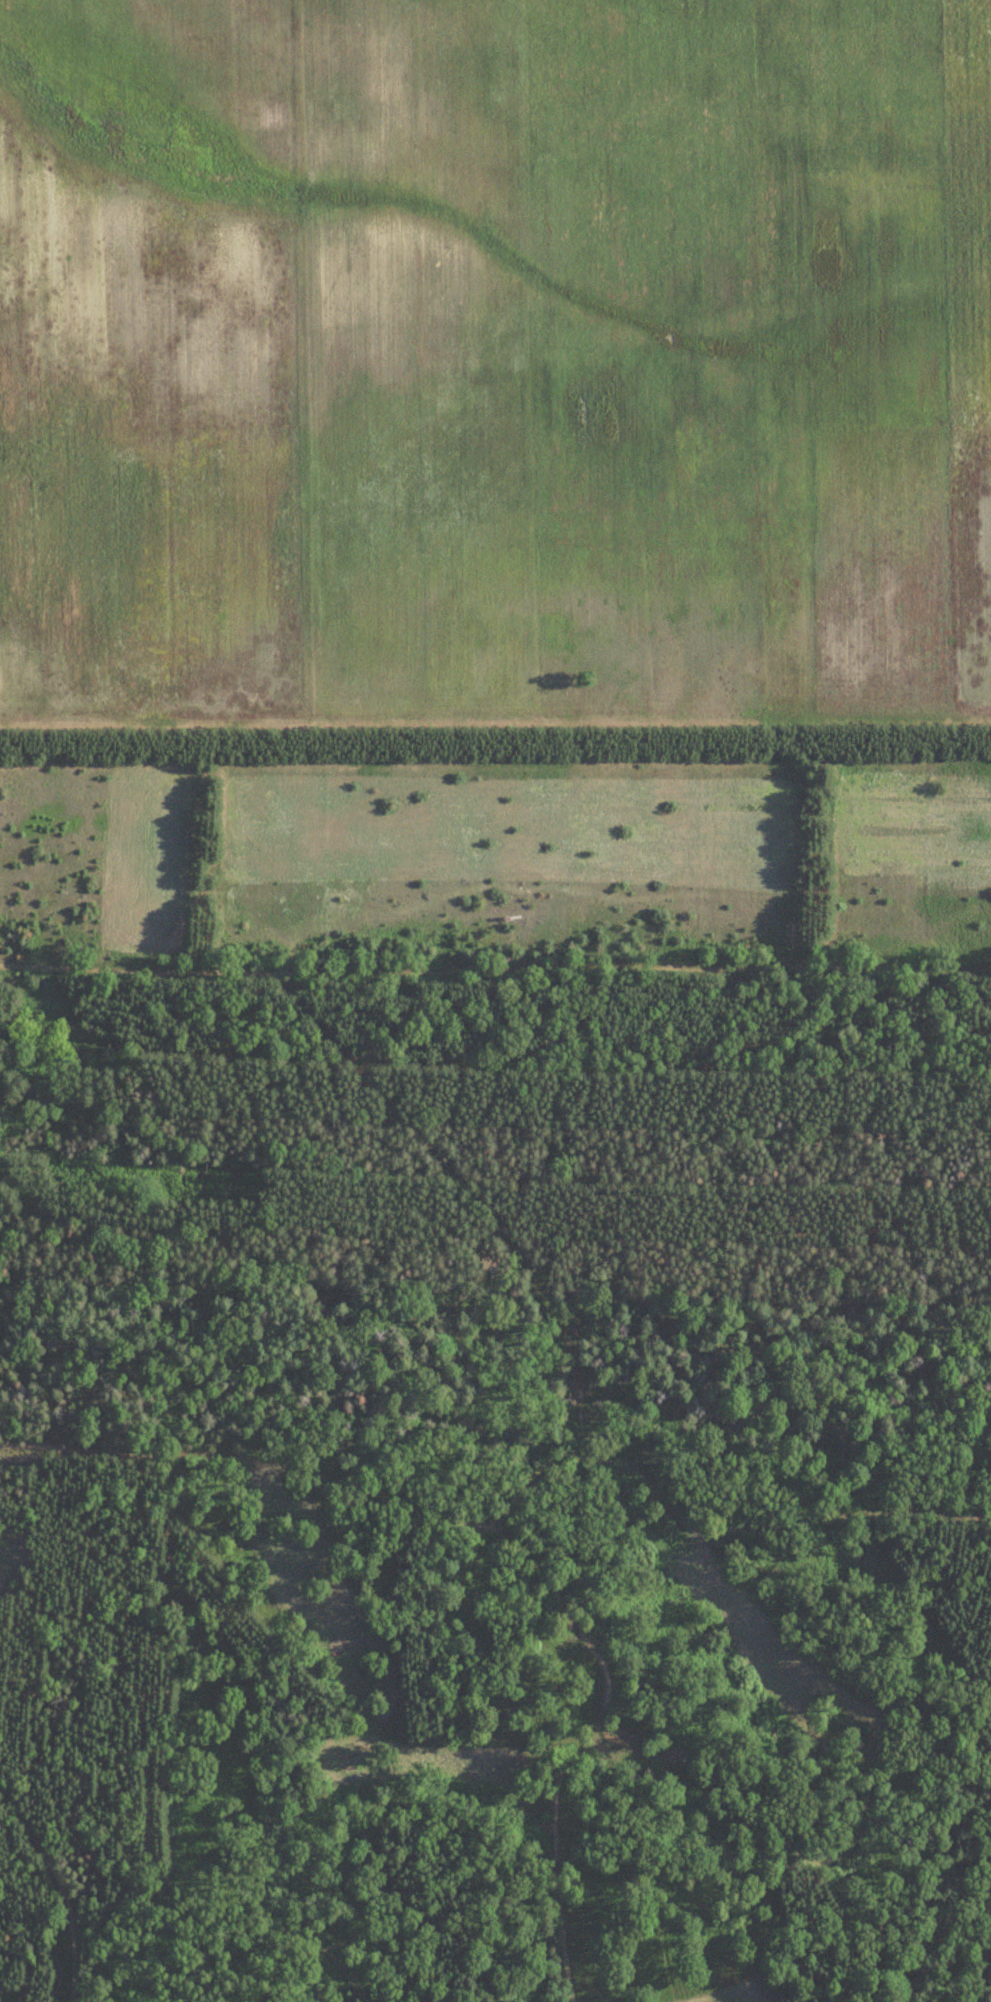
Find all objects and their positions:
crop: (495, 356)

